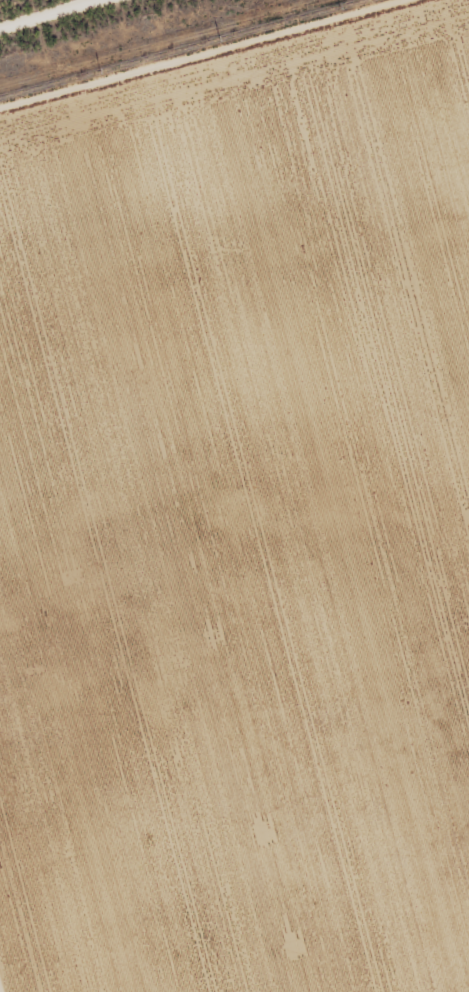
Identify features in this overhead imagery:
road: (49, 15)
road: (205, 54)

